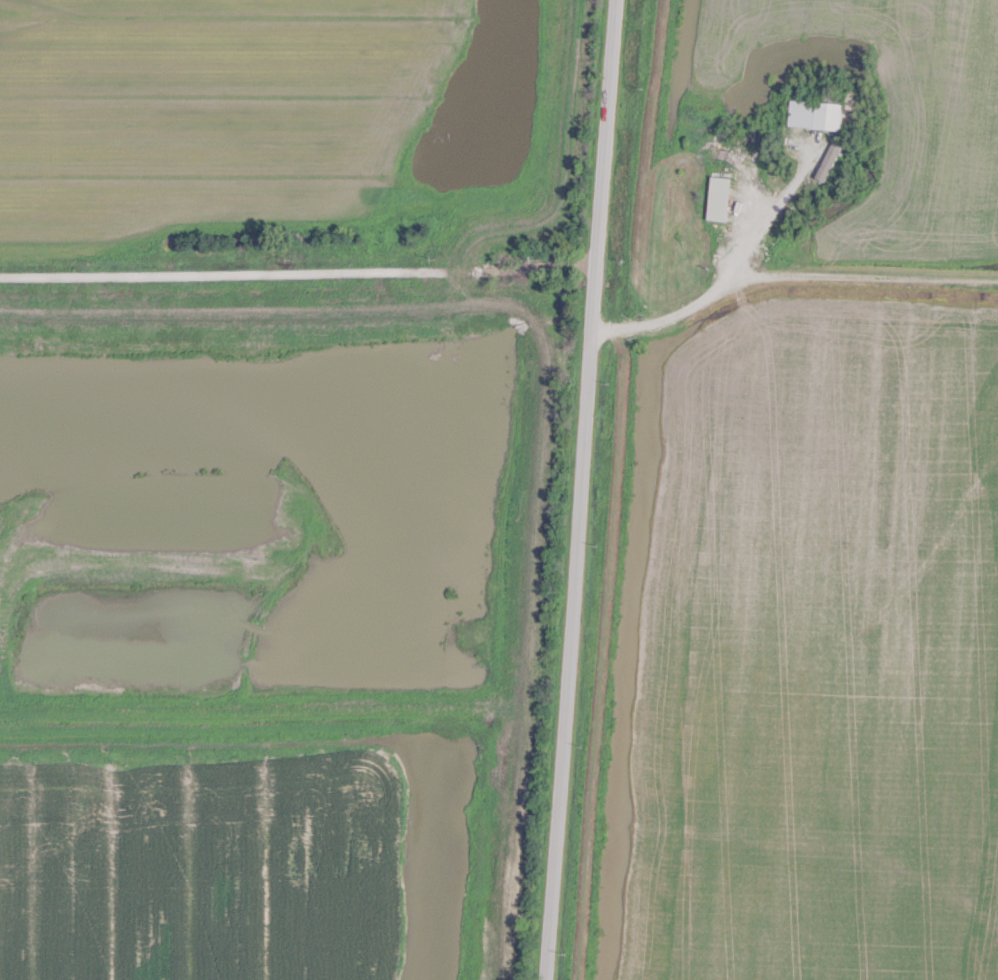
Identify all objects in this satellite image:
building: (816, 114)
building: (718, 198)
road: (297, 269)
road: (703, 296)
road: (577, 490)

